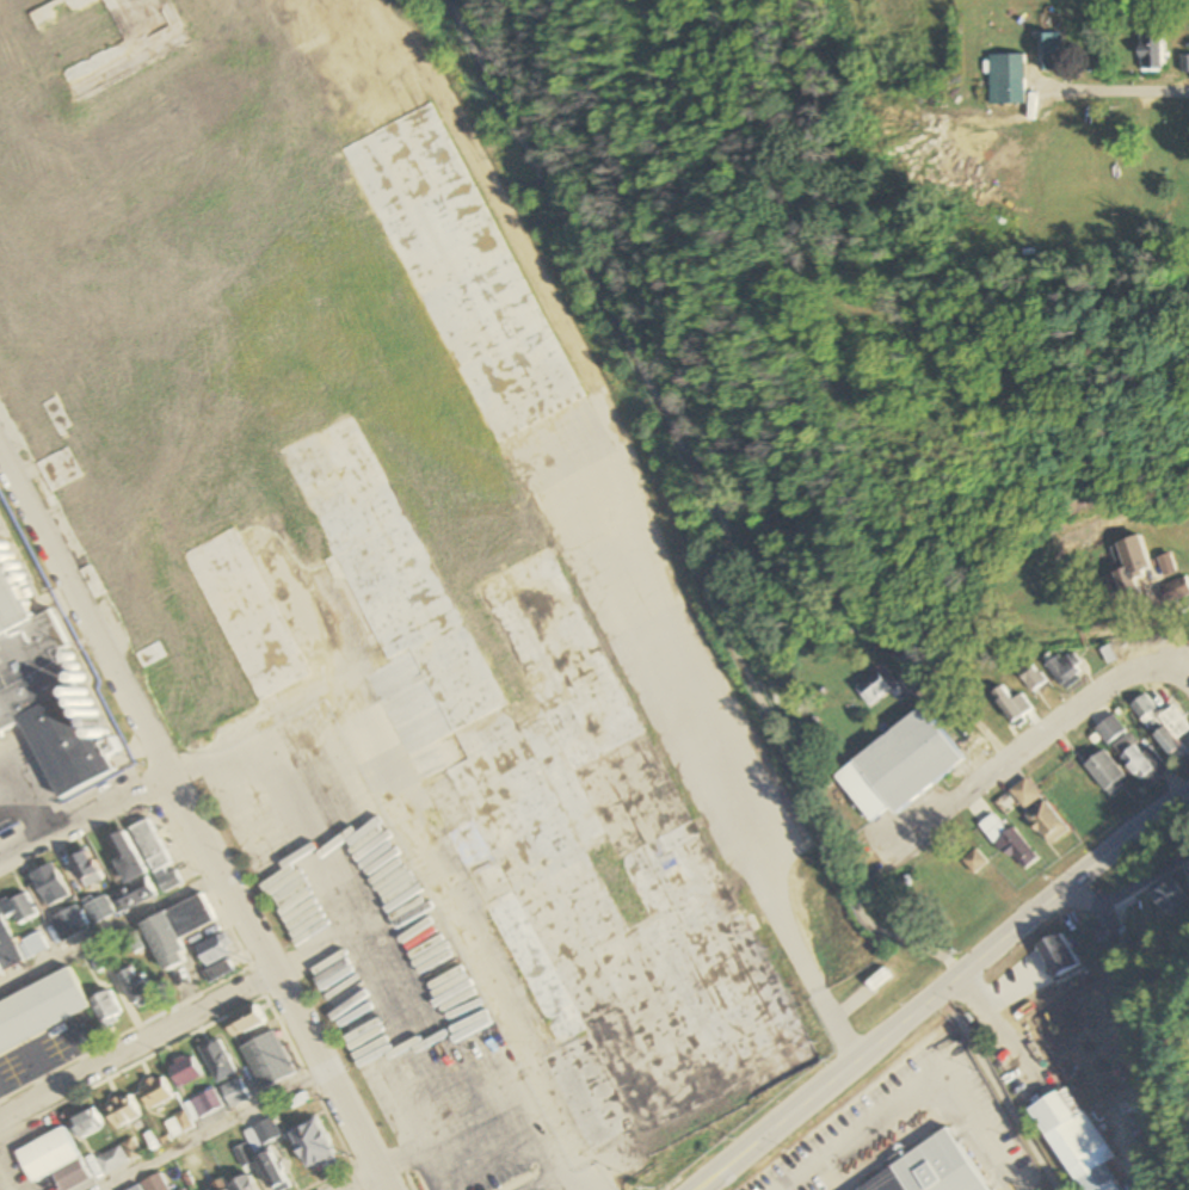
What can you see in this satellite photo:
building: (1051, 20)
building: (1151, 50)
building: (1052, 51)
building: (1187, 63)
building: (1005, 78)
road: (1107, 92)
road: (684, 454)
building: (350, 502)
building: (1131, 567)
building: (1175, 590)
building: (1066, 670)
building: (1031, 677)
building: (876, 685)
building: (48, 698)
building: (1012, 704)
building: (1164, 726)
building: (1110, 730)
road: (1046, 740)
building: (1140, 762)
building: (899, 766)
building: (1105, 773)
building: (1024, 793)
road: (85, 821)
building: (1046, 822)
road: (193, 824)
building: (1010, 843)
building: (155, 856)
building: (84, 869)
building: (128, 873)
building: (48, 886)
road: (1076, 888)
building: (1173, 896)
building: (17, 908)
building: (97, 911)
building: (66, 924)
road: (109, 929)
building: (173, 931)
building: (1110, 941)
building: (31, 945)
road: (913, 948)
building: (212, 950)
building: (6, 951)
building: (1058, 955)
building: (97, 961)
building: (135, 988)
road: (948, 991)
road: (924, 1009)
building: (39, 1010)
building: (104, 1010)
building: (240, 1022)
road: (136, 1046)
building: (215, 1061)
building: (265, 1061)
building: (183, 1072)
road: (1002, 1091)
building: (153, 1093)
building: (233, 1093)
road: (809, 1103)
building: (202, 1105)
building: (121, 1112)
building: (85, 1124)
road: (209, 1132)
building: (260, 1134)
building: (1079, 1134)
building: (312, 1148)
building: (241, 1157)
building: (51, 1161)
building: (110, 1161)
building: (935, 1171)
building: (270, 1172)
road: (362, 1182)
building: (241, 1184)
building: (149, 1185)
building: (222, 1189)

